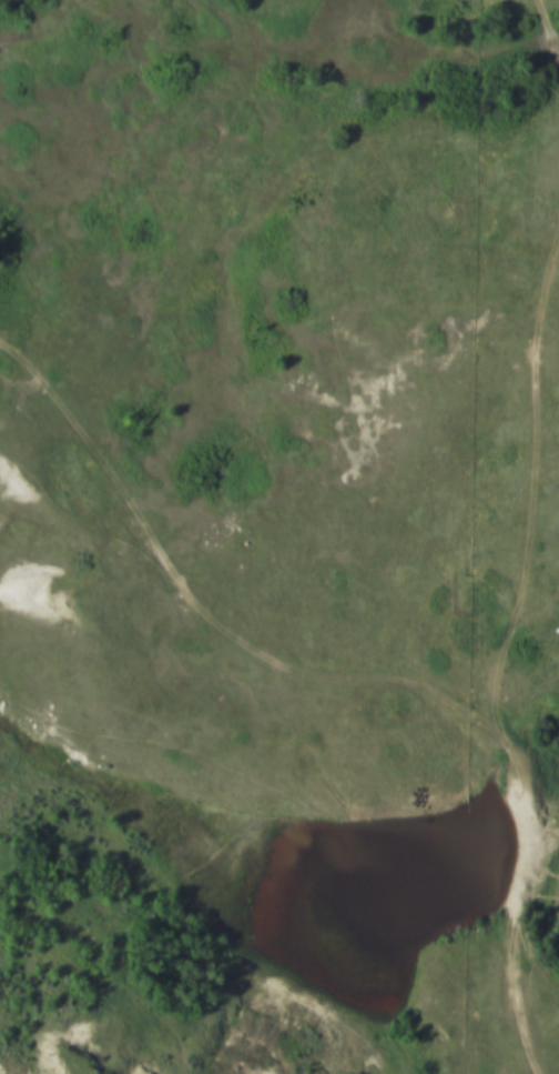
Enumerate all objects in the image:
road: (549, 37)
road: (529, 496)
road: (349, 682)

